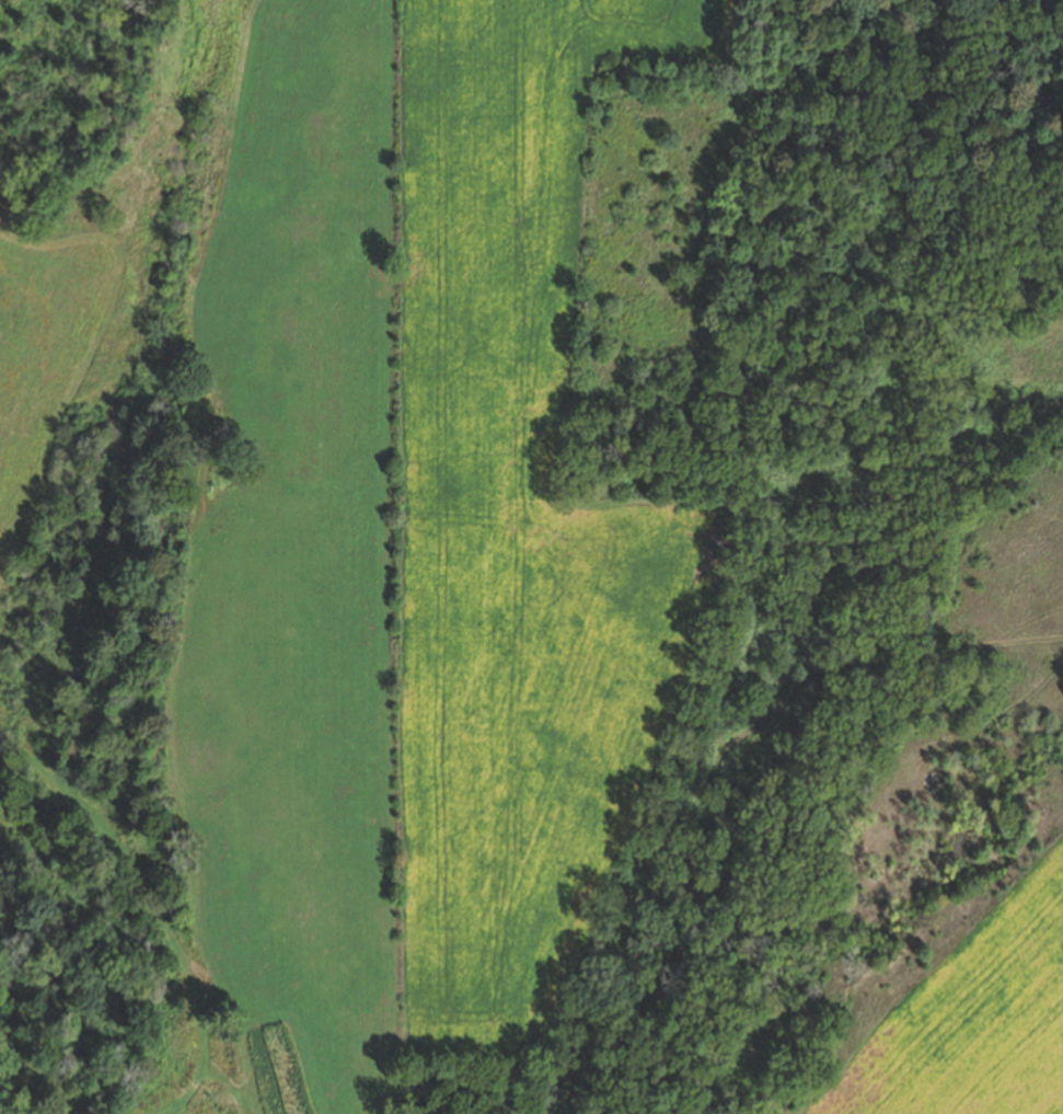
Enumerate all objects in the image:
building: (1009, 7)

